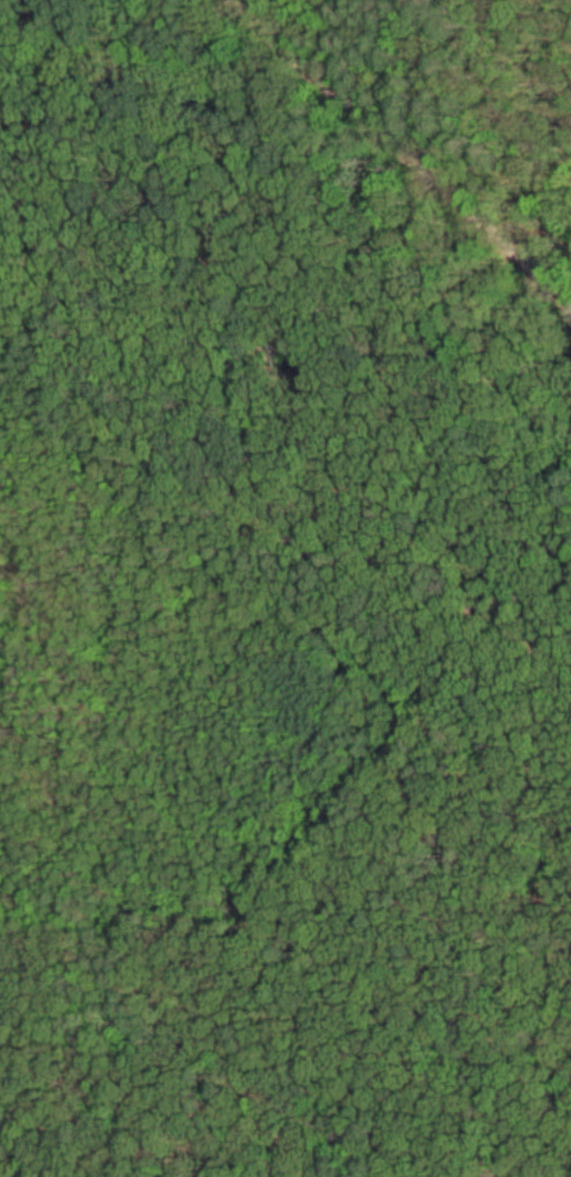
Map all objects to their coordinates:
road: (400, 155)

